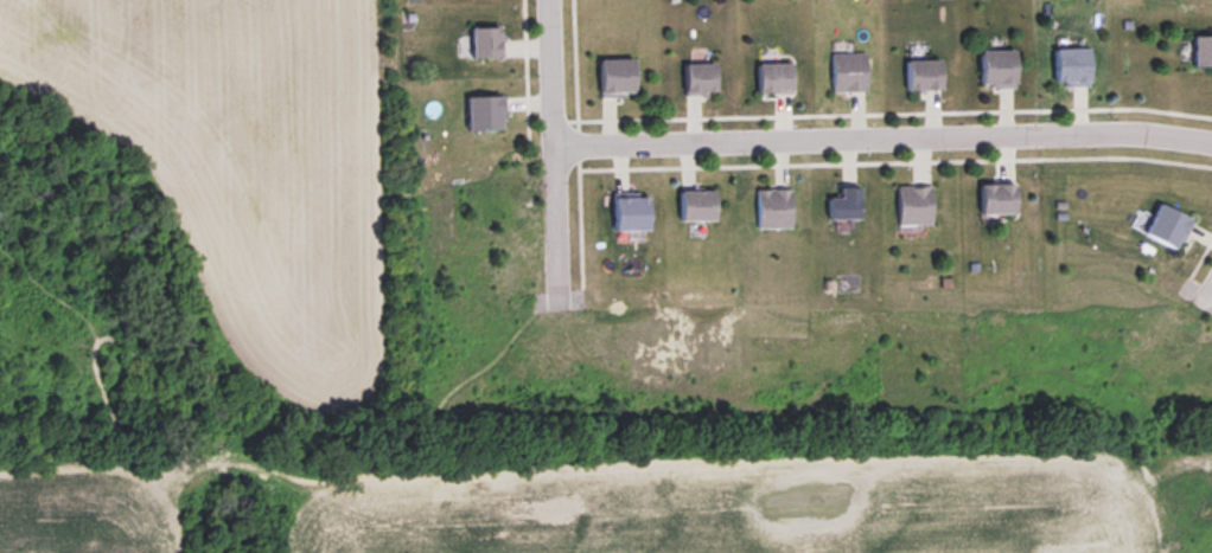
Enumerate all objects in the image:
building: (485, 44)
building: (1203, 52)
building: (1072, 67)
building: (997, 69)
building: (847, 72)
building: (923, 76)
building: (617, 78)
building: (699, 79)
building: (773, 79)
building: (485, 114)
road: (880, 139)
road: (549, 152)
building: (996, 200)
building: (844, 205)
building: (697, 206)
building: (913, 206)
building: (773, 210)
building: (631, 214)
building: (1167, 227)
road: (1206, 292)

